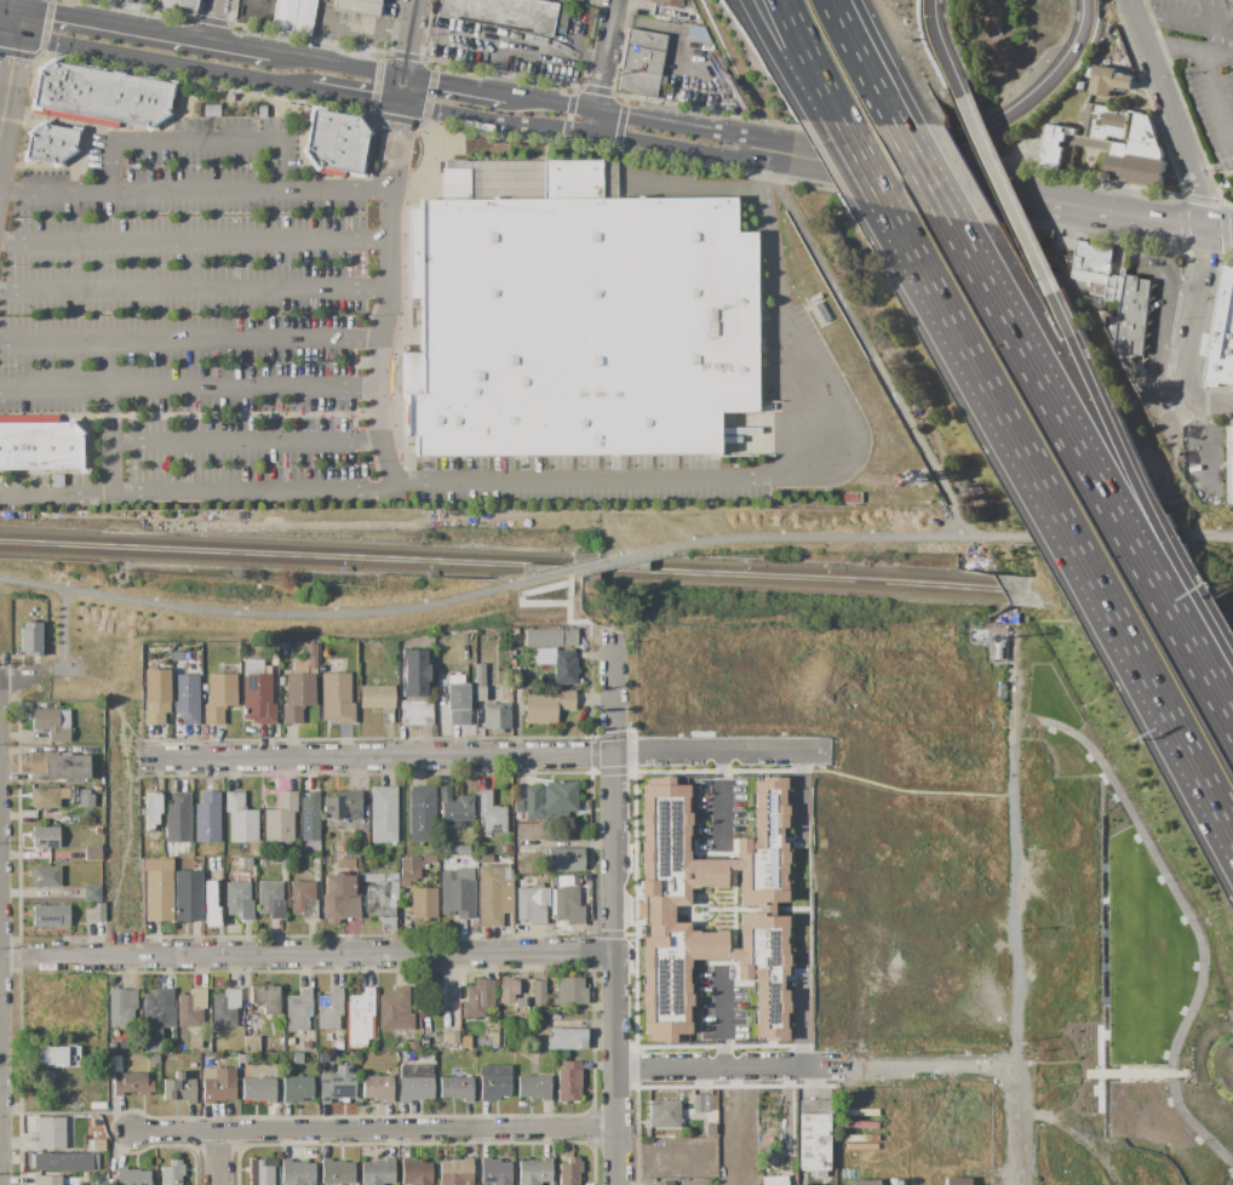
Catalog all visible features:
building: (575, 0)
road: (1229, 1)
road: (18, 2)
building: (665, 2)
road: (833, 2)
road: (833, 2)
road: (8, 4)
traffic signals: (18, 6)
building: (177, 6)
building: (357, 6)
building: (501, 13)
building: (282, 15)
building: (303, 17)
building: (560, 19)
road: (17, 21)
road: (211, 21)
road: (212, 21)
road: (1188, 21)
road: (144, 29)
road: (7, 34)
traffic signals: (16, 36)
road: (355, 36)
road: (799, 38)
road: (767, 40)
road: (1177, 44)
road: (854, 45)
road: (492, 46)
road: (42, 50)
road: (939, 50)
road: (406, 52)
road: (1222, 52)
road: (546, 55)
road: (606, 55)
road: (162, 63)
building: (641, 63)
road: (337, 64)
parking lot: (1203, 64)
traffic signals: (405, 76)
building: (1109, 81)
road: (1210, 82)
road: (449, 84)
road: (7, 85)
building: (1080, 86)
road: (600, 91)
road: (500, 93)
building: (101, 96)
road: (355, 99)
building: (297, 102)
road: (551, 102)
traffic signals: (401, 107)
building: (211, 110)
road: (1016, 110)
building: (262, 111)
road: (593, 121)
road: (425, 122)
road: (495, 124)
road: (746, 138)
building: (50, 143)
building: (334, 143)
building: (1109, 145)
road: (394, 147)
road: (732, 147)
road: (277, 150)
road: (742, 159)
road: (877, 182)
road: (929, 184)
road: (333, 187)
road: (51, 189)
road: (854, 191)
road: (1050, 202)
road: (1203, 202)
road: (1008, 204)
road: (1221, 204)
road: (1220, 233)
building: (81, 234)
building: (174, 234)
road: (194, 239)
building: (1091, 263)
building: (1063, 271)
road: (1131, 271)
road: (194, 287)
building: (1114, 287)
road: (388, 290)
building: (816, 297)
road: (1170, 297)
building: (75, 302)
building: (821, 311)
building: (574, 315)
road: (1125, 315)
building: (1132, 316)
building: (1111, 331)
building: (1222, 337)
road: (189, 339)
parking lot: (231, 339)
road: (871, 351)
road: (1157, 382)
road: (1151, 394)
road: (1151, 402)
road: (1220, 406)
road: (248, 437)
road: (110, 441)
building: (41, 447)
building: (1229, 465)
road: (518, 479)
building: (57, 481)
road: (197, 487)
building: (849, 498)
road: (1109, 502)
road: (1149, 509)
park: (1206, 536)
road: (828, 537)
road: (1214, 537)
road: (1084, 559)
railway: (501, 561)
road: (598, 565)
park: (121, 572)
railway: (504, 573)
road: (567, 577)
road: (541, 602)
road: (257, 614)
railway: (1229, 614)
building: (983, 636)
building: (550, 637)
building: (30, 639)
road: (598, 639)
building: (999, 651)
building: (283, 652)
road: (61, 656)
building: (564, 668)
building: (413, 672)
building: (478, 674)
road: (1, 677)
building: (299, 686)
building: (257, 694)
building: (481, 694)
building: (155, 695)
building: (219, 697)
building: (377, 697)
building: (185, 698)
building: (336, 698)
building: (457, 704)
road: (114, 706)
building: (547, 708)
building: (417, 712)
building: (497, 717)
building: (52, 723)
street lamp: (1049, 732)
road: (122, 746)
road: (717, 748)
street lamp: (1086, 758)
road: (384, 761)
building: (57, 766)
road: (798, 788)
building: (98, 789)
road: (905, 790)
road: (719, 795)
building: (45, 797)
building: (85, 798)
street lamp: (1112, 798)
building: (550, 800)
building: (343, 806)
building: (454, 807)
building: (518, 807)
building: (150, 811)
building: (421, 814)
building: (491, 814)
building: (383, 815)
building: (309, 817)
building: (177, 818)
building: (206, 818)
building: (240, 819)
building: (280, 819)
building: (45, 837)
street lamp: (1137, 842)
building: (533, 845)
road: (122, 849)
building: (325, 849)
building: (506, 849)
building: (340, 851)
building: (460, 851)
building: (92, 853)
building: (168, 853)
building: (486, 859)
building: (563, 859)
building: (247, 863)
building: (348, 863)
building: (413, 869)
building: (45, 876)
street lamp: (1159, 882)
building: (88, 892)
building: (157, 893)
building: (458, 893)
building: (493, 893)
building: (187, 895)
building: (337, 895)
building: (382, 898)
building: (270, 899)
building: (237, 900)
building: (303, 900)
building: (210, 904)
building: (423, 904)
building: (532, 904)
crop: (917, 905)
building: (566, 906)
building: (710, 909)
building: (96, 911)
road: (619, 911)
building: (50, 916)
road: (1188, 917)
street lamp: (1181, 922)
road: (4, 931)
road: (1015, 932)
road: (312, 956)
street lamp: (1194, 968)
building: (509, 991)
building: (569, 992)
building: (539, 994)
building: (478, 998)
building: (264, 1000)
building: (121, 1007)
building: (224, 1008)
building: (190, 1009)
building: (298, 1011)
building: (329, 1011)
building: (395, 1011)
street lamp: (1181, 1012)
building: (156, 1013)
building: (360, 1018)
road: (721, 1023)
building: (573, 1024)
road: (799, 1026)
building: (327, 1037)
building: (451, 1038)
building: (567, 1040)
building: (494, 1041)
building: (289, 1042)
building: (252, 1044)
building: (465, 1044)
building: (338, 1046)
building: (412, 1046)
building: (308, 1047)
building: (56, 1055)
street lamp: (1165, 1057)
building: (153, 1058)
building: (242, 1059)
building: (297, 1059)
road: (1099, 1069)
road: (1137, 1072)
road: (819, 1074)
building: (415, 1077)
building: (494, 1082)
building: (569, 1082)
building: (131, 1084)
building: (337, 1084)
building: (219, 1087)
building: (377, 1088)
building: (534, 1088)
building: (178, 1089)
building: (258, 1089)
building: (296, 1089)
building: (455, 1089)
road: (2, 1092)
building: (702, 1103)
street lamp: (1168, 1104)
building: (664, 1115)
building: (710, 1124)
road: (377, 1132)
building: (980, 1133)
building: (50, 1134)
building: (813, 1135)
street lamp: (1198, 1143)
building: (98, 1145)
road: (225, 1158)
building: (64, 1162)
building: (260, 1170)
building: (337, 1172)
building: (377, 1172)
building: (414, 1172)
building: (455, 1172)
building: (494, 1172)
building: (534, 1172)
building: (569, 1172)
building: (171, 1173)
building: (297, 1173)
street lamp: (1229, 1175)
building: (132, 1177)
building: (47, 1180)
building: (775, 1180)
building: (895, 1181)
building: (956, 1181)
building: (664, 1183)
building: (864, 1183)

